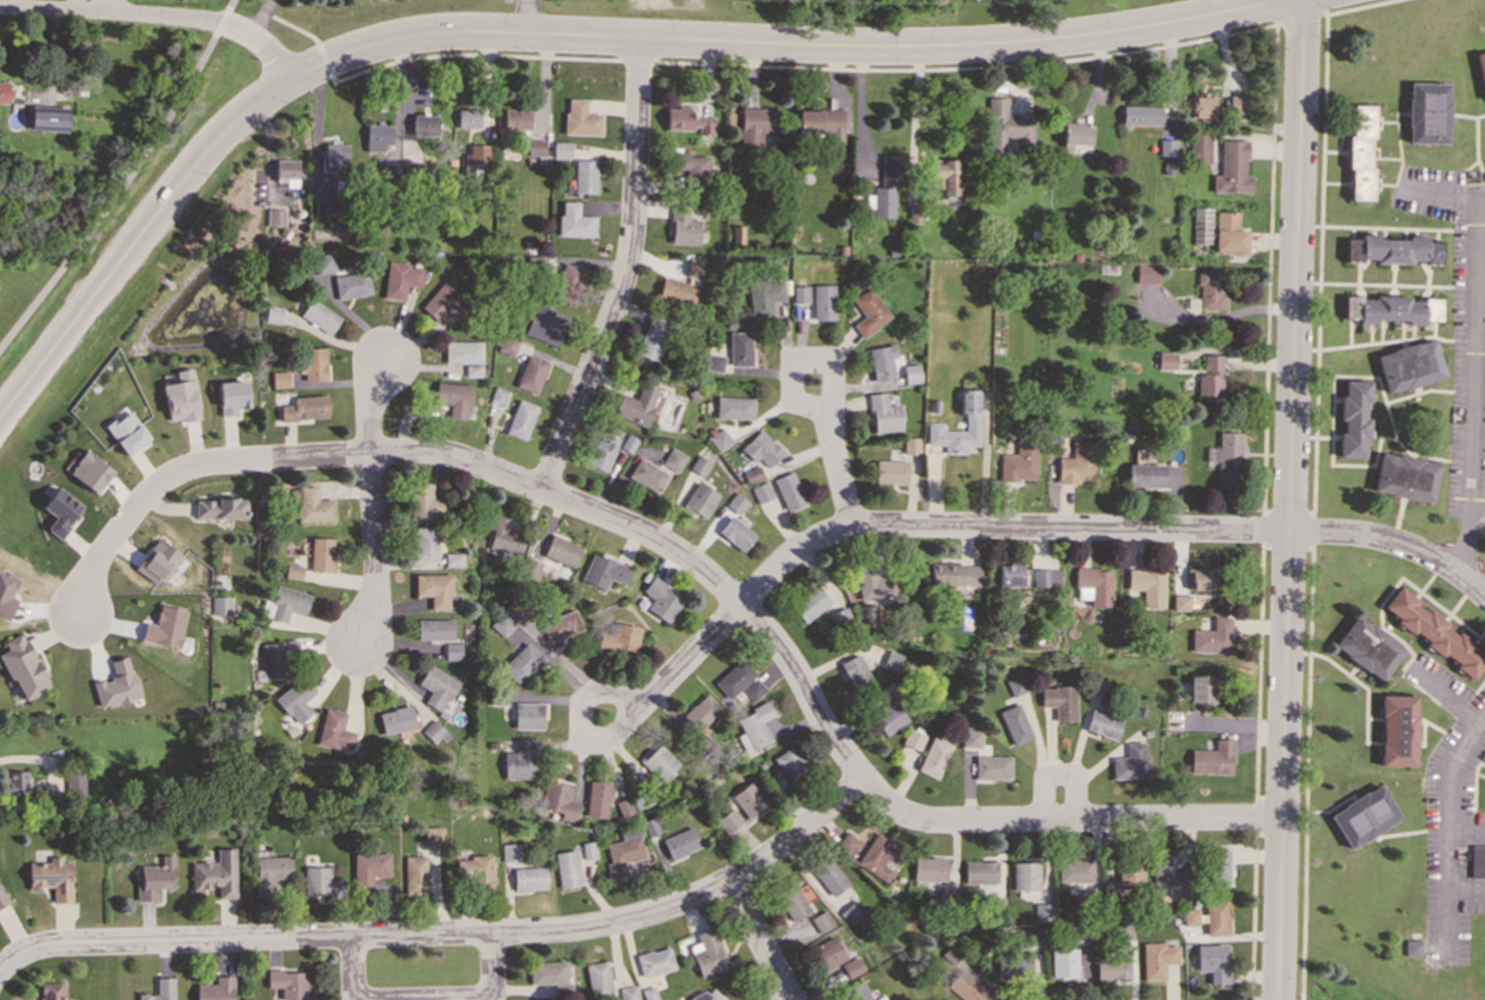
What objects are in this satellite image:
road: (105, 6)
road: (531, 15)
road: (155, 16)
road: (263, 20)
road: (774, 40)
building: (1481, 71)
building: (4, 91)
road: (863, 104)
building: (1235, 105)
building: (1202, 106)
building: (1427, 112)
road: (915, 114)
building: (1141, 115)
building: (48, 118)
building: (468, 118)
building: (516, 118)
building: (580, 119)
building: (688, 120)
building: (425, 124)
building: (819, 124)
building: (755, 125)
building: (1006, 125)
building: (1076, 133)
building: (378, 136)
building: (1167, 147)
building: (535, 148)
building: (1199, 148)
building: (561, 149)
building: (1359, 153)
building: (478, 154)
building: (333, 157)
building: (1232, 168)
building: (691, 169)
building: (287, 172)
road: (122, 177)
building: (584, 177)
building: (944, 177)
building: (884, 187)
road: (1445, 194)
building: (323, 208)
building: (275, 217)
building: (573, 221)
building: (682, 226)
building: (1201, 230)
road: (135, 233)
building: (1228, 233)
building: (736, 234)
building: (1392, 249)
building: (325, 262)
building: (696, 268)
road: (626, 270)
building: (1146, 274)
building: (399, 279)
building: (567, 283)
building: (351, 285)
building: (1210, 289)
building: (677, 292)
building: (800, 294)
building: (764, 297)
building: (444, 302)
building: (823, 302)
building: (1383, 309)
building: (1431, 309)
building: (869, 311)
building: (273, 315)
building: (319, 316)
road: (1220, 317)
building: (542, 326)
building: (653, 335)
building: (506, 345)
road: (1480, 345)
building: (739, 348)
building: (462, 352)
building: (1166, 360)
building: (882, 362)
building: (311, 363)
building: (715, 363)
building: (1409, 365)
building: (472, 371)
building: (911, 373)
building: (531, 374)
road: (791, 375)
building: (279, 379)
building: (1210, 379)
road: (1473, 390)
building: (498, 396)
building: (180, 397)
building: (231, 397)
building: (453, 398)
building: (639, 406)
building: (305, 408)
building: (733, 408)
building: (883, 414)
building: (971, 418)
building: (520, 419)
building: (1353, 419)
building: (126, 433)
building: (719, 439)
building: (629, 443)
building: (911, 445)
building: (761, 449)
building: (601, 451)
building: (1229, 458)
building: (674, 459)
building: (1018, 462)
building: (1076, 464)
building: (699, 465)
building: (89, 471)
road: (838, 471)
building: (890, 471)
building: (752, 474)
building: (647, 475)
building: (1145, 475)
building: (1404, 477)
building: (788, 491)
building: (761, 492)
road: (372, 498)
road: (1289, 499)
building: (700, 500)
building: (424, 503)
building: (736, 503)
building: (313, 507)
building: (220, 508)
building: (60, 511)
road: (1477, 519)
road: (1001, 526)
building: (735, 533)
building: (504, 535)
road: (1394, 543)
building: (424, 544)
building: (561, 551)
building: (321, 555)
building: (452, 560)
road: (689, 560)
building: (158, 562)
building: (294, 572)
building: (603, 572)
building: (953, 574)
building: (1009, 574)
building: (1045, 578)
building: (1199, 579)
building: (870, 581)
building: (1147, 585)
building: (1093, 586)
building: (434, 589)
building: (6, 595)
building: (661, 600)
building: (287, 602)
building: (1180, 602)
building: (810, 604)
building: (221, 605)
building: (517, 609)
building: (502, 624)
building: (561, 626)
building: (165, 627)
building: (434, 629)
building: (1435, 632)
building: (1212, 637)
building: (618, 639)
building: (1368, 648)
building: (452, 651)
road: (690, 656)
building: (277, 657)
building: (892, 660)
building: (522, 663)
building: (22, 667)
building: (854, 670)
building: (734, 678)
building: (117, 684)
building: (1015, 685)
building: (437, 687)
building: (1201, 688)
building: (753, 689)
road: (605, 695)
building: (297, 700)
building: (1059, 701)
building: (700, 714)
building: (529, 716)
building: (888, 717)
building: (397, 720)
building: (1014, 724)
building: (1103, 724)
building: (755, 727)
building: (336, 730)
building: (1397, 731)
building: (435, 732)
building: (970, 738)
building: (913, 739)
building: (705, 745)
building: (933, 757)
road: (32, 759)
building: (1212, 759)
building: (520, 760)
building: (659, 762)
building: (1131, 762)
building: (790, 764)
building: (992, 766)
road: (1058, 774)
building: (16, 781)
building: (77, 783)
building: (597, 799)
building: (749, 799)
building: (559, 801)
building: (1363, 816)
building: (729, 821)
road: (1467, 829)
road: (1449, 832)
building: (433, 836)
building: (680, 843)
building: (510, 852)
building: (623, 853)
building: (872, 853)
building: (1477, 861)
building: (1220, 867)
building: (930, 868)
building: (479, 869)
building: (567, 869)
building: (368, 870)
building: (1074, 870)
building: (980, 871)
building: (270, 873)
building: (216, 874)
building: (415, 874)
building: (1025, 876)
building: (831, 877)
building: (1166, 877)
building: (51, 878)
building: (529, 878)
building: (155, 879)
building: (1124, 879)
building: (321, 882)
road: (1467, 891)
building: (2, 900)
building: (793, 901)
building: (1043, 912)
building: (852, 913)
building: (1189, 917)
building: (1215, 918)
building: (822, 921)
road: (450, 934)
building: (1031, 937)
road: (758, 939)
building: (1412, 948)
building: (708, 953)
building: (828, 953)
building: (1156, 959)
building: (655, 962)
building: (1212, 962)
building: (1063, 963)
building: (1014, 965)
building: (851, 967)
building: (1112, 968)
road: (353, 969)
road: (491, 969)
building: (547, 972)
building: (599, 980)
park: (1377, 980)
building: (289, 984)
building: (966, 987)
building: (216, 989)
building: (160, 990)
building: (50, 991)
building: (856, 992)
building: (628, 993)
building: (707, 996)

